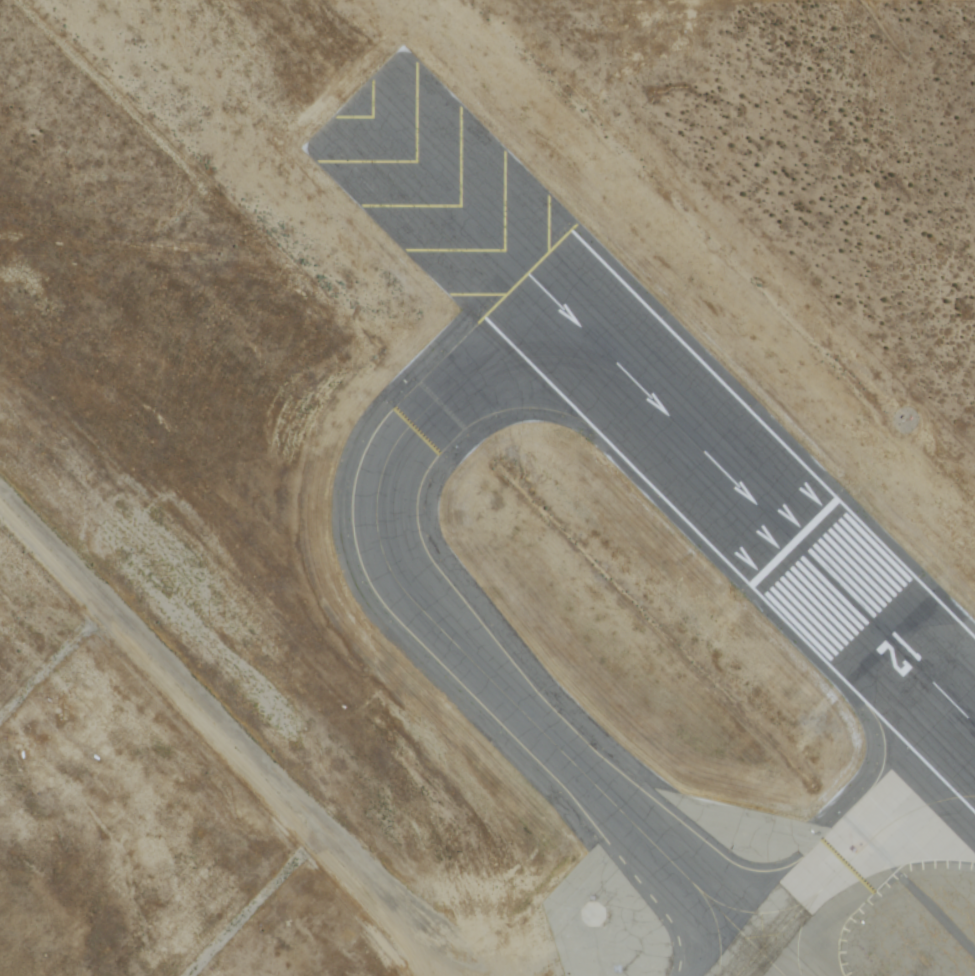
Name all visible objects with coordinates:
airport runway: (661, 410)
airport: (487, 488)
airport taxiway: (436, 623)
airport runway: (884, 636)
airport apron: (148, 825)
airport taxiway: (844, 867)

